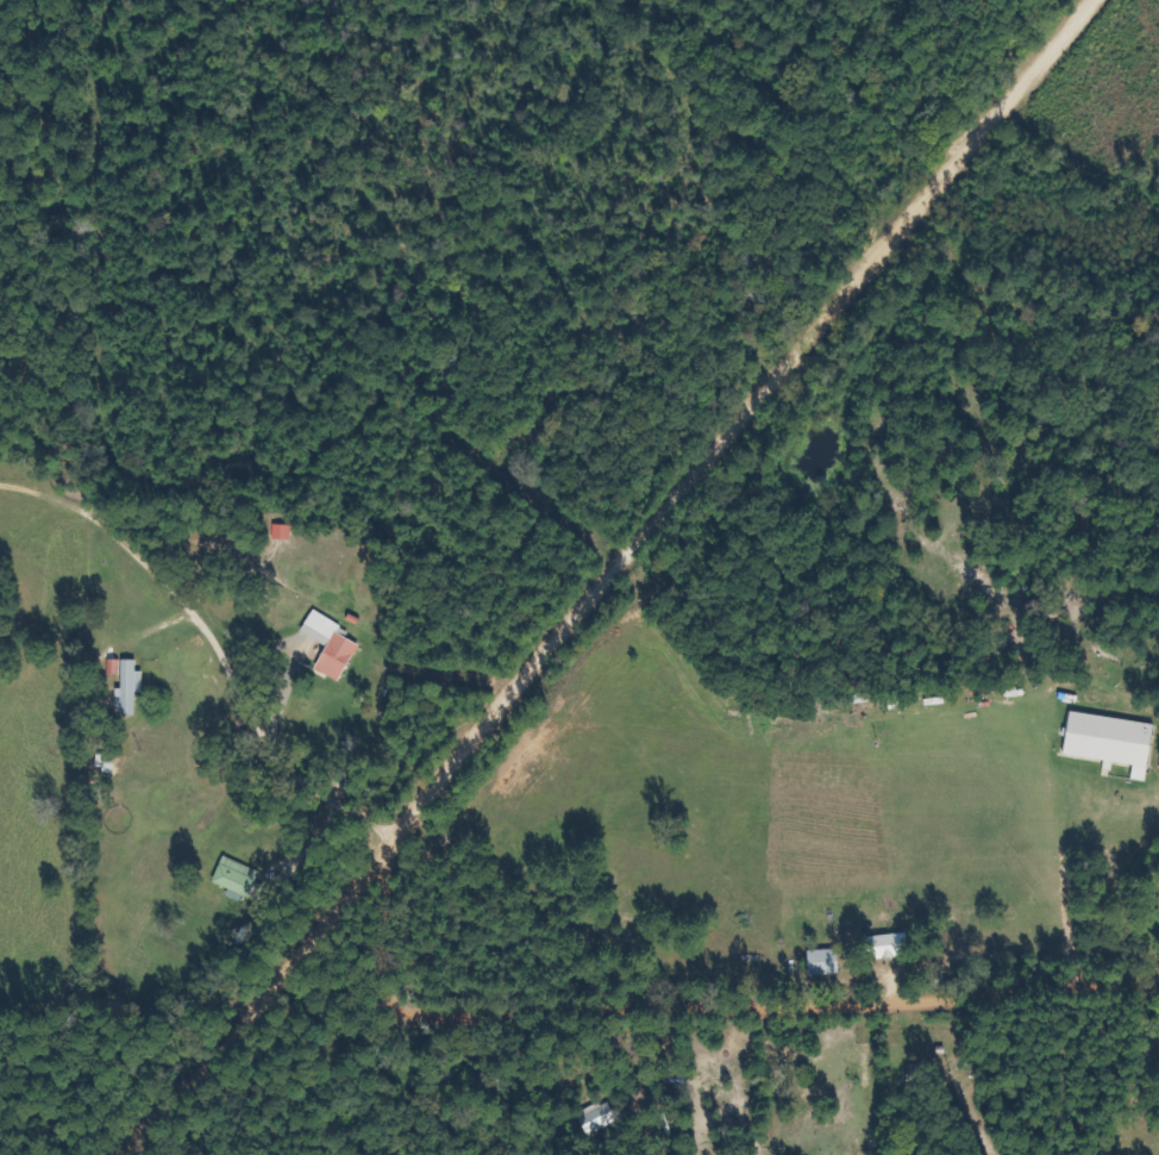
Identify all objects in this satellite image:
road: (602, 575)
road: (263, 592)
building: (331, 644)
building: (125, 686)
building: (237, 878)
building: (563, 898)
building: (814, 961)
road: (718, 1005)
building: (906, 1074)
building: (798, 1100)
building: (590, 1117)

